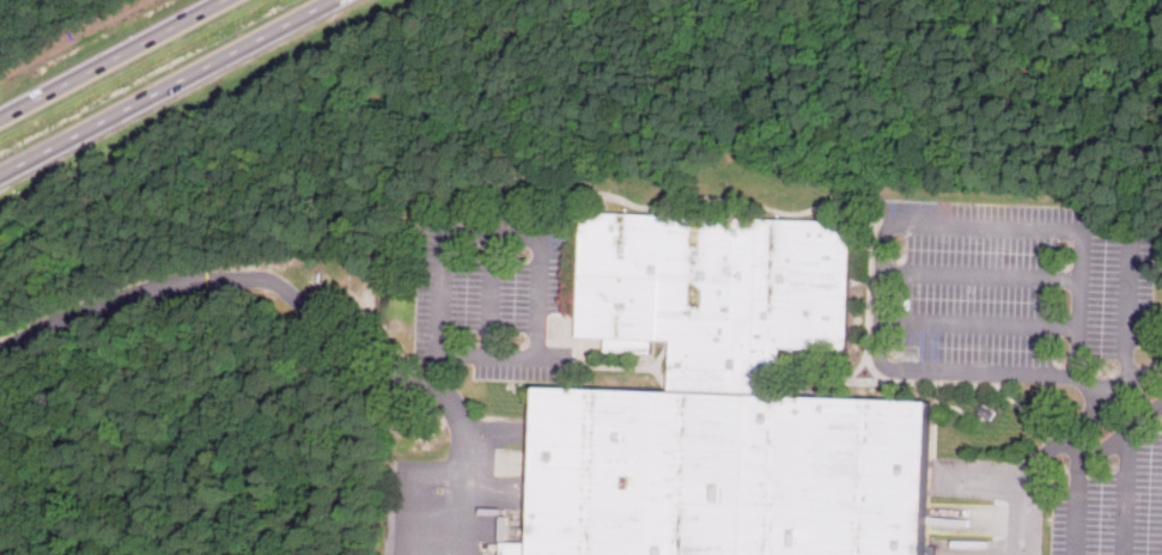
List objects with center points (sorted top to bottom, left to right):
road: (112, 59)
road: (166, 87)
road: (521, 237)
road: (884, 244)
road: (982, 275)
road: (142, 281)
road: (491, 294)
road: (1128, 305)
road: (980, 323)
road: (437, 389)
building: (724, 404)
road: (1121, 434)
road: (1061, 443)
road: (1128, 490)
road: (1079, 493)

